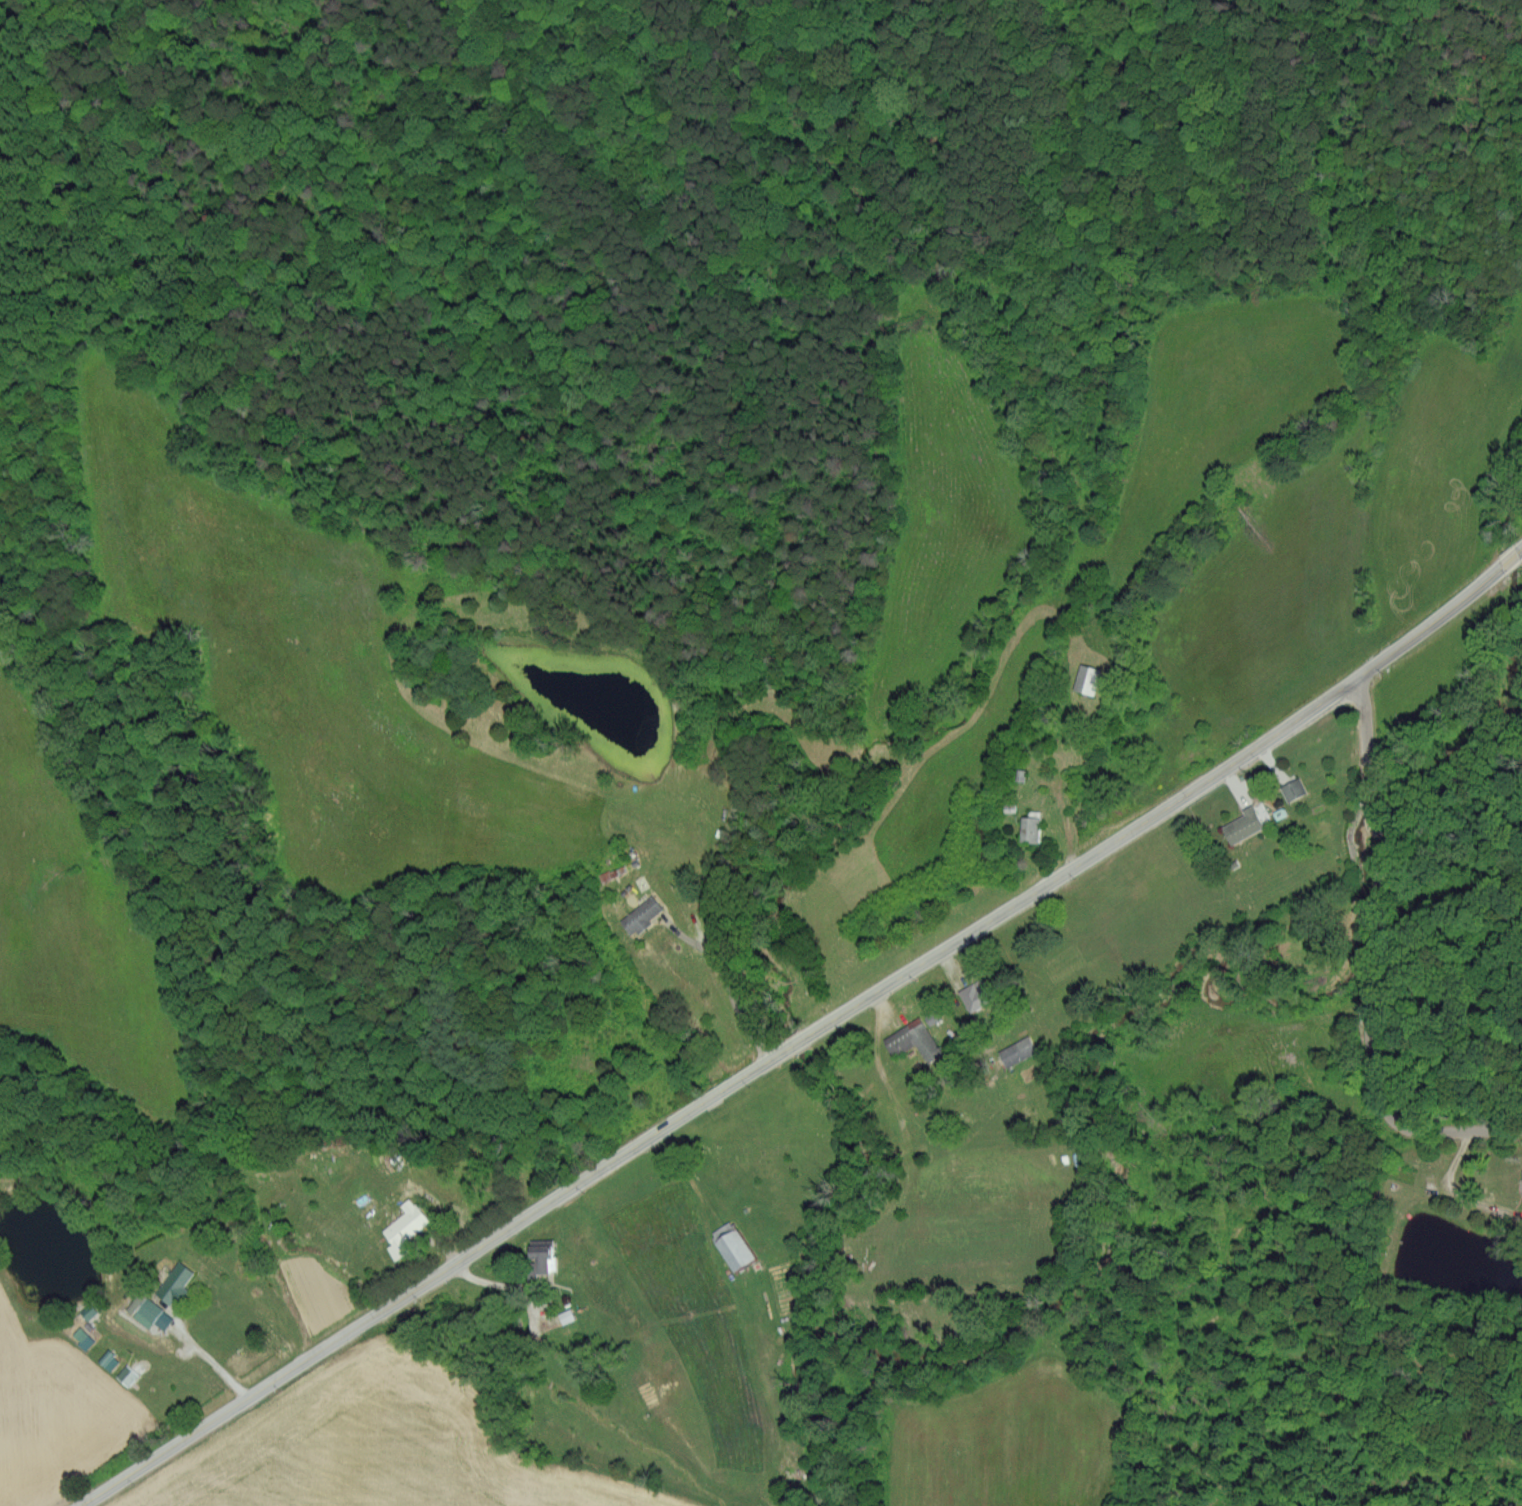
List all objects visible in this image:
building: (1087, 679)
building: (1293, 789)
road: (1061, 802)
building: (1243, 825)
building: (1030, 829)
road: (1374, 896)
building: (640, 914)
building: (974, 994)
road: (800, 1030)
building: (912, 1038)
building: (1016, 1049)
road: (1463, 1128)
building: (404, 1226)
building: (732, 1244)
building: (543, 1254)
building: (175, 1281)
building: (134, 1302)
building: (152, 1313)
building: (127, 1374)

